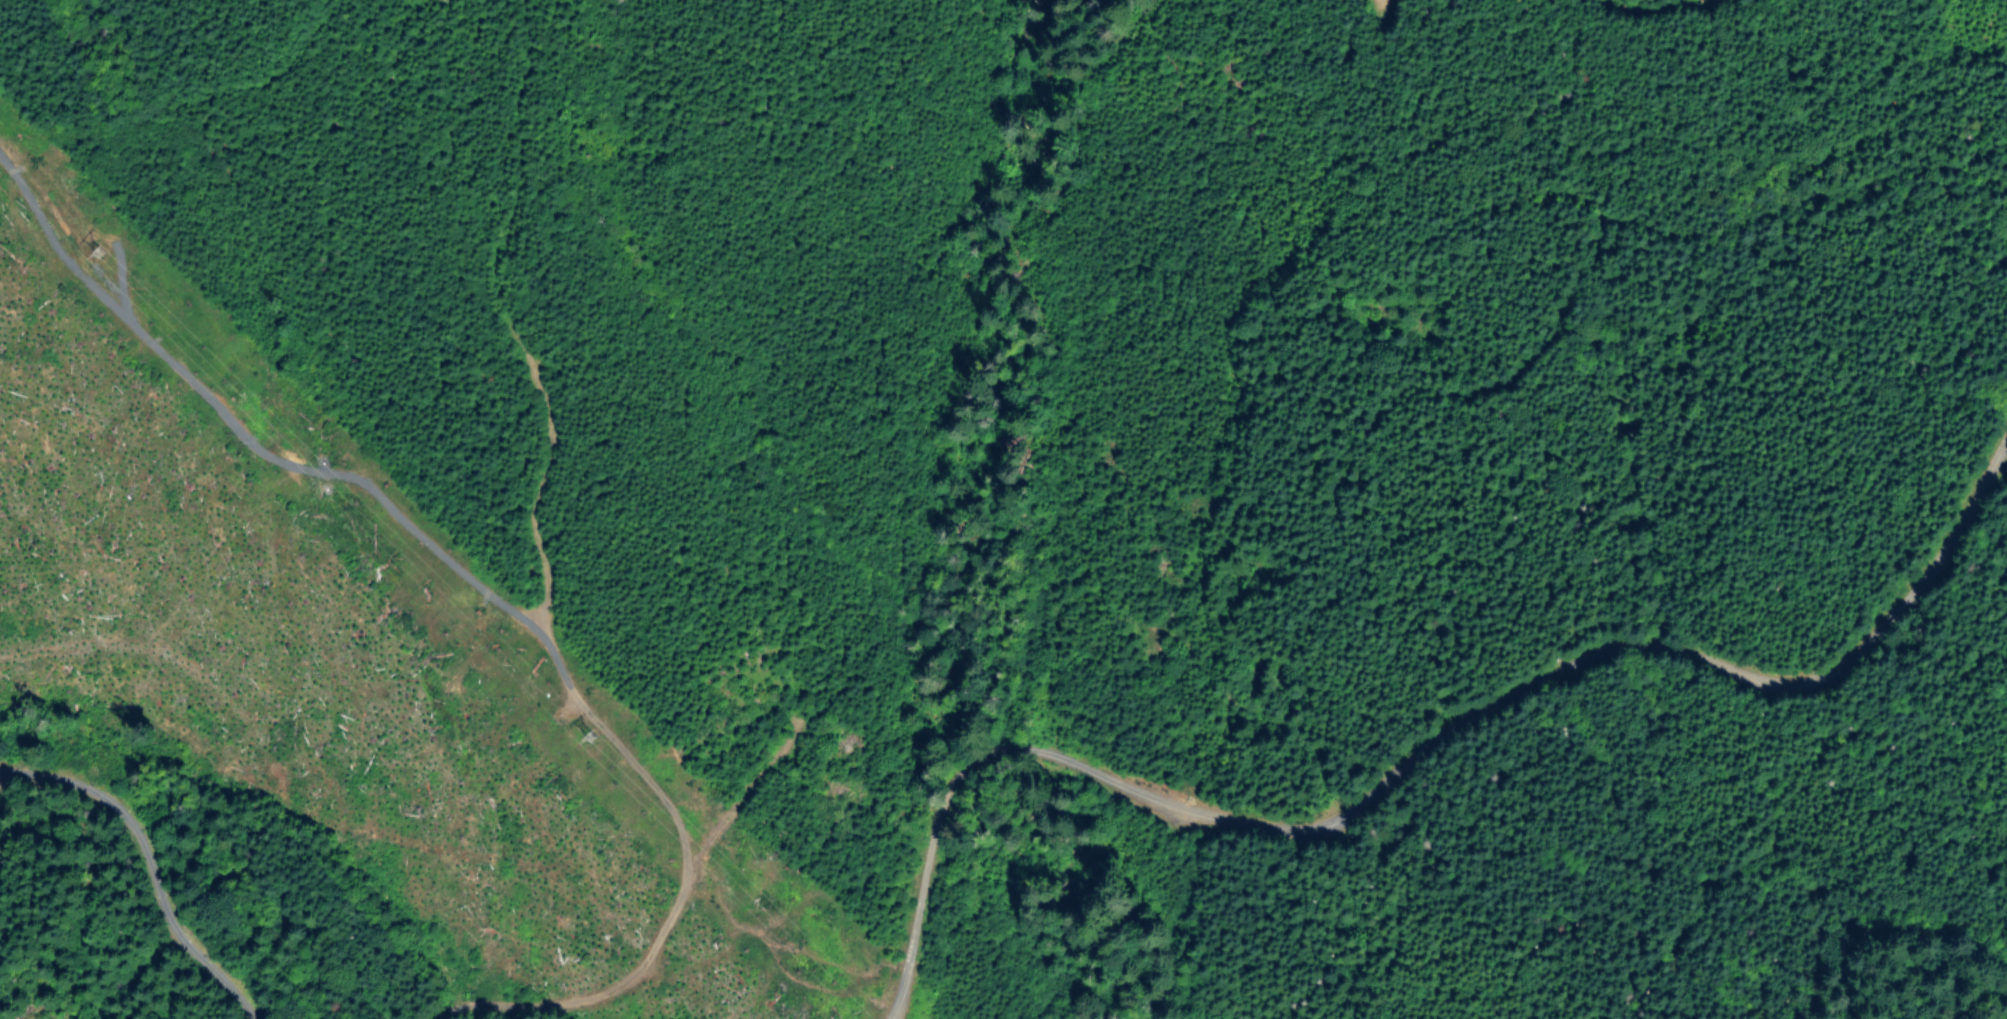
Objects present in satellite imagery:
road: (1564, 187)
power tower: (87, 244)
power tower: (581, 732)
road: (1415, 769)
road: (152, 862)
road: (803, 898)

